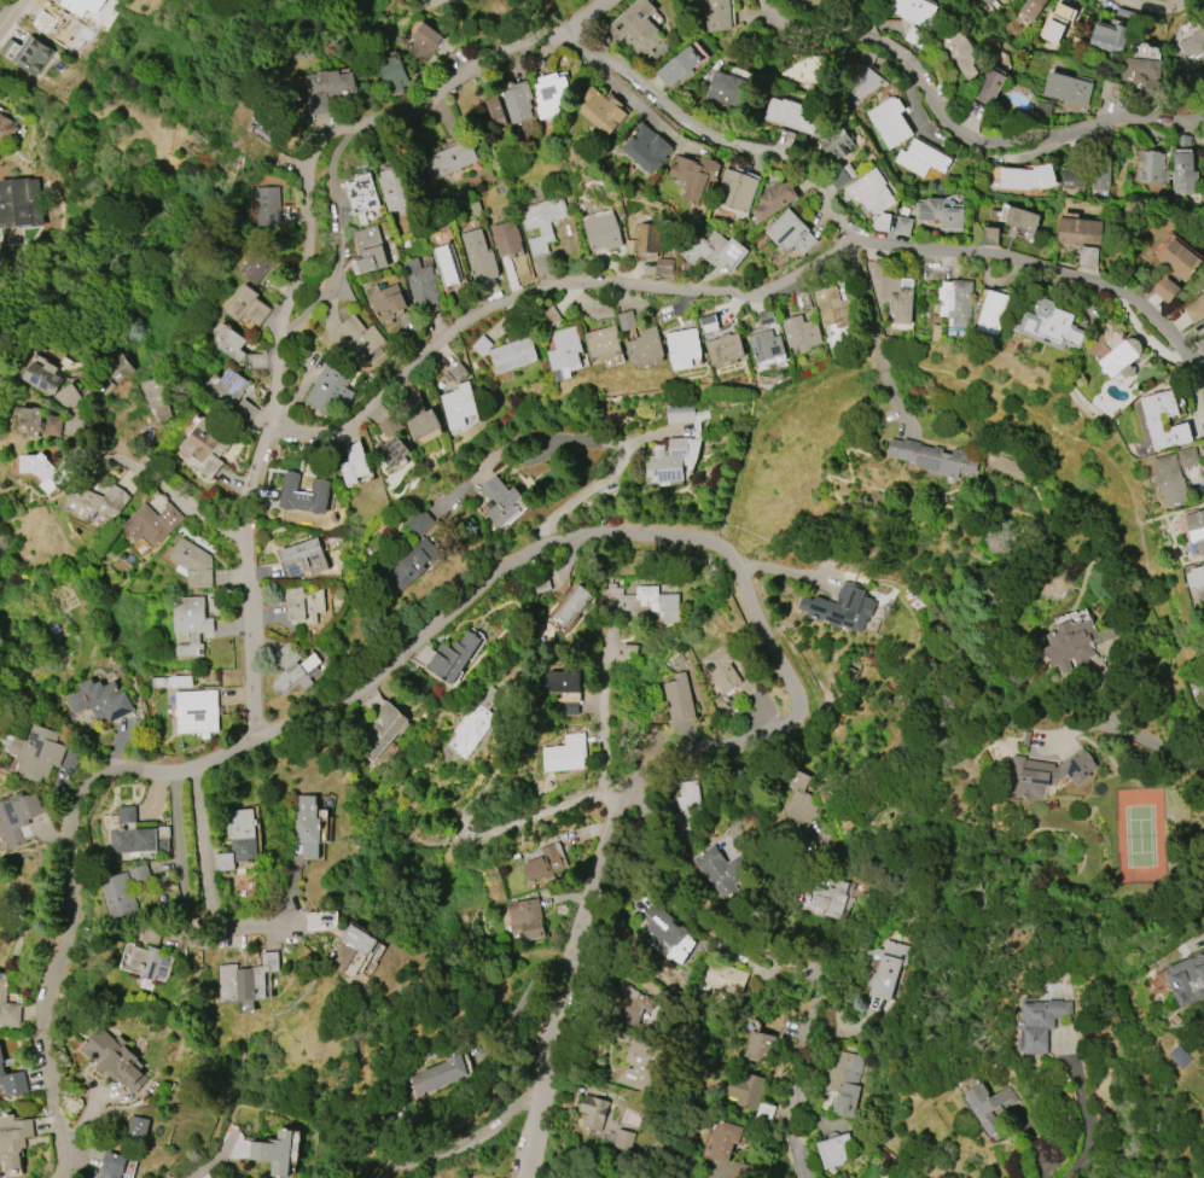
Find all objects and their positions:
building: (989, 1)
building: (1007, 1)
road: (1150, 5)
building: (1031, 7)
building: (914, 11)
road: (10, 12)
building: (716, 14)
building: (1054, 23)
building: (633, 29)
building: (1109, 37)
building: (424, 41)
building: (1191, 48)
building: (959, 51)
building: (33, 54)
building: (677, 66)
building: (391, 74)
building: (1141, 74)
building: (866, 81)
building: (989, 87)
building: (327, 88)
building: (1066, 88)
building: (728, 89)
building: (1110, 91)
building: (548, 94)
building: (516, 100)
building: (601, 110)
building: (494, 111)
building: (790, 115)
building: (889, 122)
building: (6, 128)
road: (958, 133)
building: (834, 142)
building: (646, 148)
building: (920, 158)
building: (449, 159)
building: (1150, 167)
building: (1100, 171)
building: (1182, 174)
building: (694, 175)
building: (1026, 177)
building: (1072, 177)
building: (395, 191)
building: (734, 191)
building: (869, 192)
building: (362, 197)
building: (772, 199)
building: (268, 205)
building: (18, 208)
building: (940, 214)
building: (1022, 218)
building: (541, 222)
building: (902, 226)
building: (601, 229)
building: (1080, 232)
building: (789, 233)
building: (505, 238)
building: (646, 238)
road: (865, 241)
building: (368, 250)
building: (714, 251)
building: (478, 255)
building: (1179, 259)
building: (447, 264)
building: (256, 266)
building: (663, 266)
building: (420, 284)
building: (1203, 286)
road: (545, 287)
building: (1165, 290)
building: (895, 292)
building: (386, 302)
building: (955, 302)
building: (245, 305)
building: (832, 308)
building: (1196, 308)
building: (993, 313)
road: (277, 314)
building: (766, 317)
building: (626, 320)
building: (1051, 326)
building: (799, 333)
road: (873, 334)
building: (355, 338)
building: (231, 343)
building: (601, 343)
building: (764, 345)
building: (1203, 345)
building: (644, 346)
building: (682, 348)
building: (723, 348)
building: (506, 352)
building: (564, 352)
building: (1121, 358)
building: (43, 378)
building: (228, 387)
building: (328, 389)
building: (157, 395)
building: (66, 396)
building: (458, 404)
building: (679, 414)
building: (1152, 420)
building: (30, 421)
building: (423, 424)
building: (53, 425)
road: (587, 439)
building: (205, 447)
building: (392, 451)
building: (933, 457)
building: (668, 460)
building: (354, 463)
building: (41, 471)
building: (1169, 479)
building: (303, 494)
building: (500, 501)
building: (95, 502)
road: (197, 503)
building: (152, 523)
building: (419, 523)
building: (1196, 529)
road: (556, 541)
building: (303, 558)
building: (411, 562)
building: (192, 564)
building: (1196, 577)
building: (303, 603)
building: (641, 603)
building: (570, 605)
building: (841, 607)
building: (191, 624)
building: (1070, 645)
building: (626, 653)
building: (452, 657)
building: (722, 667)
building: (295, 675)
building: (180, 680)
building: (564, 680)
building: (679, 699)
building: (100, 700)
building: (196, 711)
road: (605, 711)
building: (473, 722)
building: (383, 729)
road: (1151, 742)
building: (37, 752)
building: (564, 753)
building: (1046, 774)
building: (799, 805)
building: (686, 806)
building: (126, 815)
building: (18, 816)
road: (529, 816)
building: (306, 826)
building: (237, 839)
building: (133, 840)
building: (542, 863)
building: (722, 870)
road: (591, 893)
building: (118, 894)
road: (203, 894)
building: (830, 897)
building: (525, 919)
building: (663, 926)
road: (66, 927)
building: (351, 946)
building: (150, 962)
road: (781, 967)
building: (884, 967)
building: (723, 978)
building: (246, 979)
building: (1186, 979)
building: (7, 1004)
building: (1039, 1022)
building: (760, 1046)
building: (115, 1059)
building: (639, 1062)
building: (437, 1074)
building: (12, 1080)
building: (844, 1080)
building: (745, 1089)
building: (989, 1106)
road: (1083, 1109)
building: (592, 1112)
building: (136, 1127)
park: (1182, 1132)
building: (13, 1139)
building: (622, 1139)
building: (723, 1141)
road: (453, 1145)
building: (833, 1149)
building: (274, 1153)
building: (114, 1165)
road: (198, 1176)

